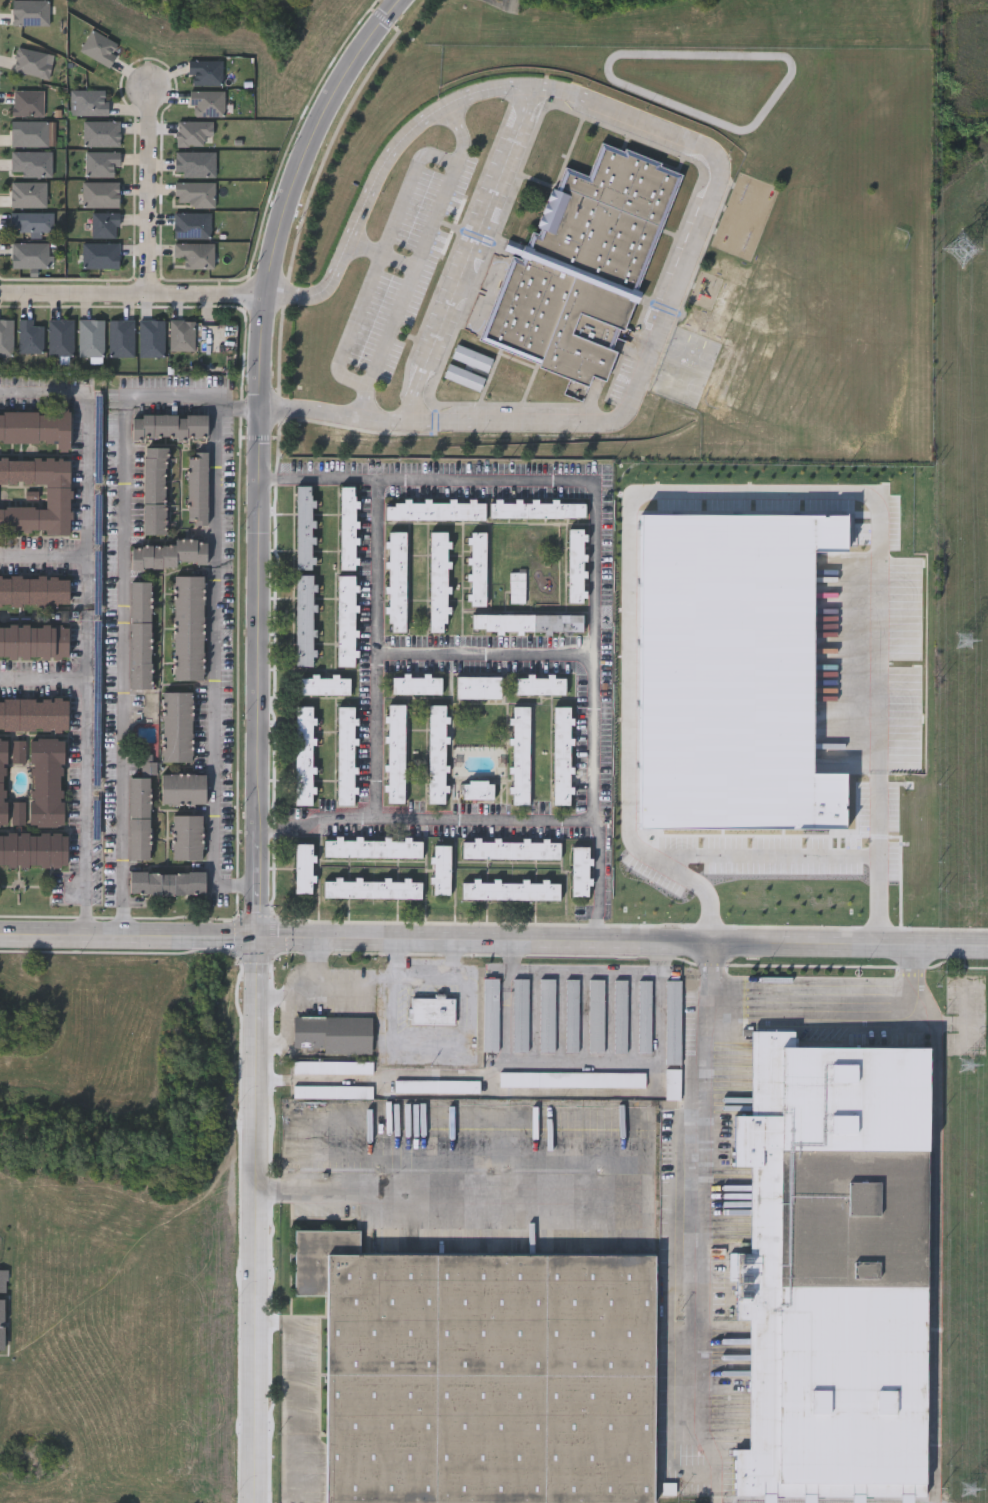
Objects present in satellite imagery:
building: (29, 12)
building: (98, 47)
building: (204, 72)
building: (27, 102)
building: (88, 102)
building: (206, 102)
building: (28, 133)
building: (101, 133)
building: (30, 164)
building: (100, 164)
building: (194, 164)
road: (715, 190)
road: (150, 192)
building: (27, 194)
building: (100, 194)
building: (193, 194)
building: (31, 222)
building: (104, 225)
building: (192, 225)
power tower: (963, 250)
road: (380, 252)
road: (470, 252)
building: (29, 255)
building: (194, 255)
building: (100, 256)
road: (415, 258)
building: (581, 265)
road: (132, 305)
building: (181, 335)
building: (29, 336)
building: (6, 337)
building: (60, 337)
building: (90, 338)
building: (121, 338)
building: (151, 338)
building: (471, 357)
building: (514, 375)
building: (463, 377)
road: (199, 392)
building: (169, 426)
building: (36, 427)
road: (594, 479)
building: (198, 487)
building: (155, 490)
road: (734, 491)
building: (35, 496)
building: (537, 508)
building: (435, 509)
building: (304, 527)
building: (347, 528)
building: (171, 554)
road: (42, 555)
building: (577, 565)
building: (477, 568)
building: (396, 581)
building: (438, 581)
building: (517, 586)
building: (34, 591)
building: (304, 619)
building: (345, 620)
building: (527, 622)
road: (84, 626)
building: (188, 627)
building: (141, 634)
building: (34, 641)
power tower: (965, 642)
road: (399, 650)
road: (214, 664)
road: (123, 665)
road: (42, 680)
building: (416, 684)
building: (542, 684)
building: (323, 685)
building: (478, 687)
building: (33, 714)
building: (177, 727)
road: (254, 733)
road: (374, 733)
building: (19, 751)
building: (395, 753)
building: (437, 754)
building: (520, 754)
building: (563, 755)
building: (303, 756)
building: (345, 756)
building: (47, 782)
building: (3, 783)
building: (183, 789)
building: (478, 790)
building: (18, 813)
building: (140, 818)
road: (484, 818)
building: (187, 838)
building: (372, 848)
building: (511, 849)
building: (33, 850)
road: (766, 852)
building: (303, 869)
building: (441, 870)
building: (581, 872)
building: (168, 884)
building: (372, 889)
building: (511, 891)
traffic signals: (253, 941)
road: (493, 944)
road: (397, 969)
road: (711, 976)
road: (331, 994)
road: (288, 1001)
road: (843, 1007)
building: (433, 1011)
building: (490, 1014)
building: (520, 1015)
building: (547, 1015)
building: (572, 1015)
building: (595, 1015)
building: (620, 1016)
building: (644, 1016)
building: (673, 1022)
building: (331, 1033)
road: (285, 1037)
road: (460, 1047)
power tower: (967, 1066)
building: (573, 1079)
building: (672, 1084)
road: (434, 1188)
road: (704, 1224)
building: (838, 1271)
building: (3, 1280)
building: (1, 1323)
building: (483, 1376)
road: (299, 1395)
power tower: (969, 1491)
railway: (835, 1499)

